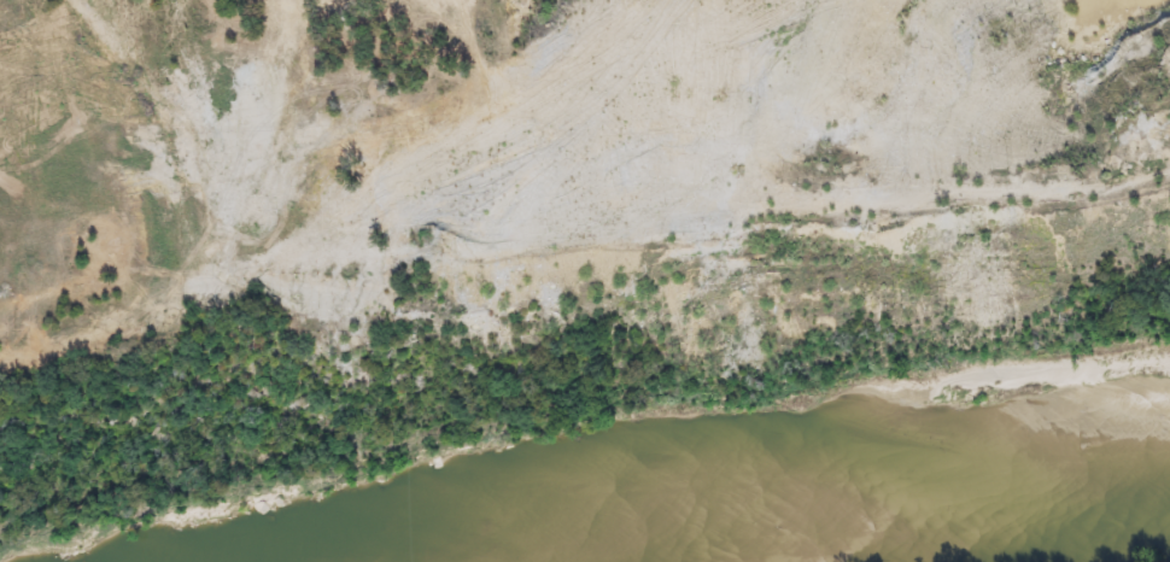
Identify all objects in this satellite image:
river: (1004, 540)
river: (416, 558)

